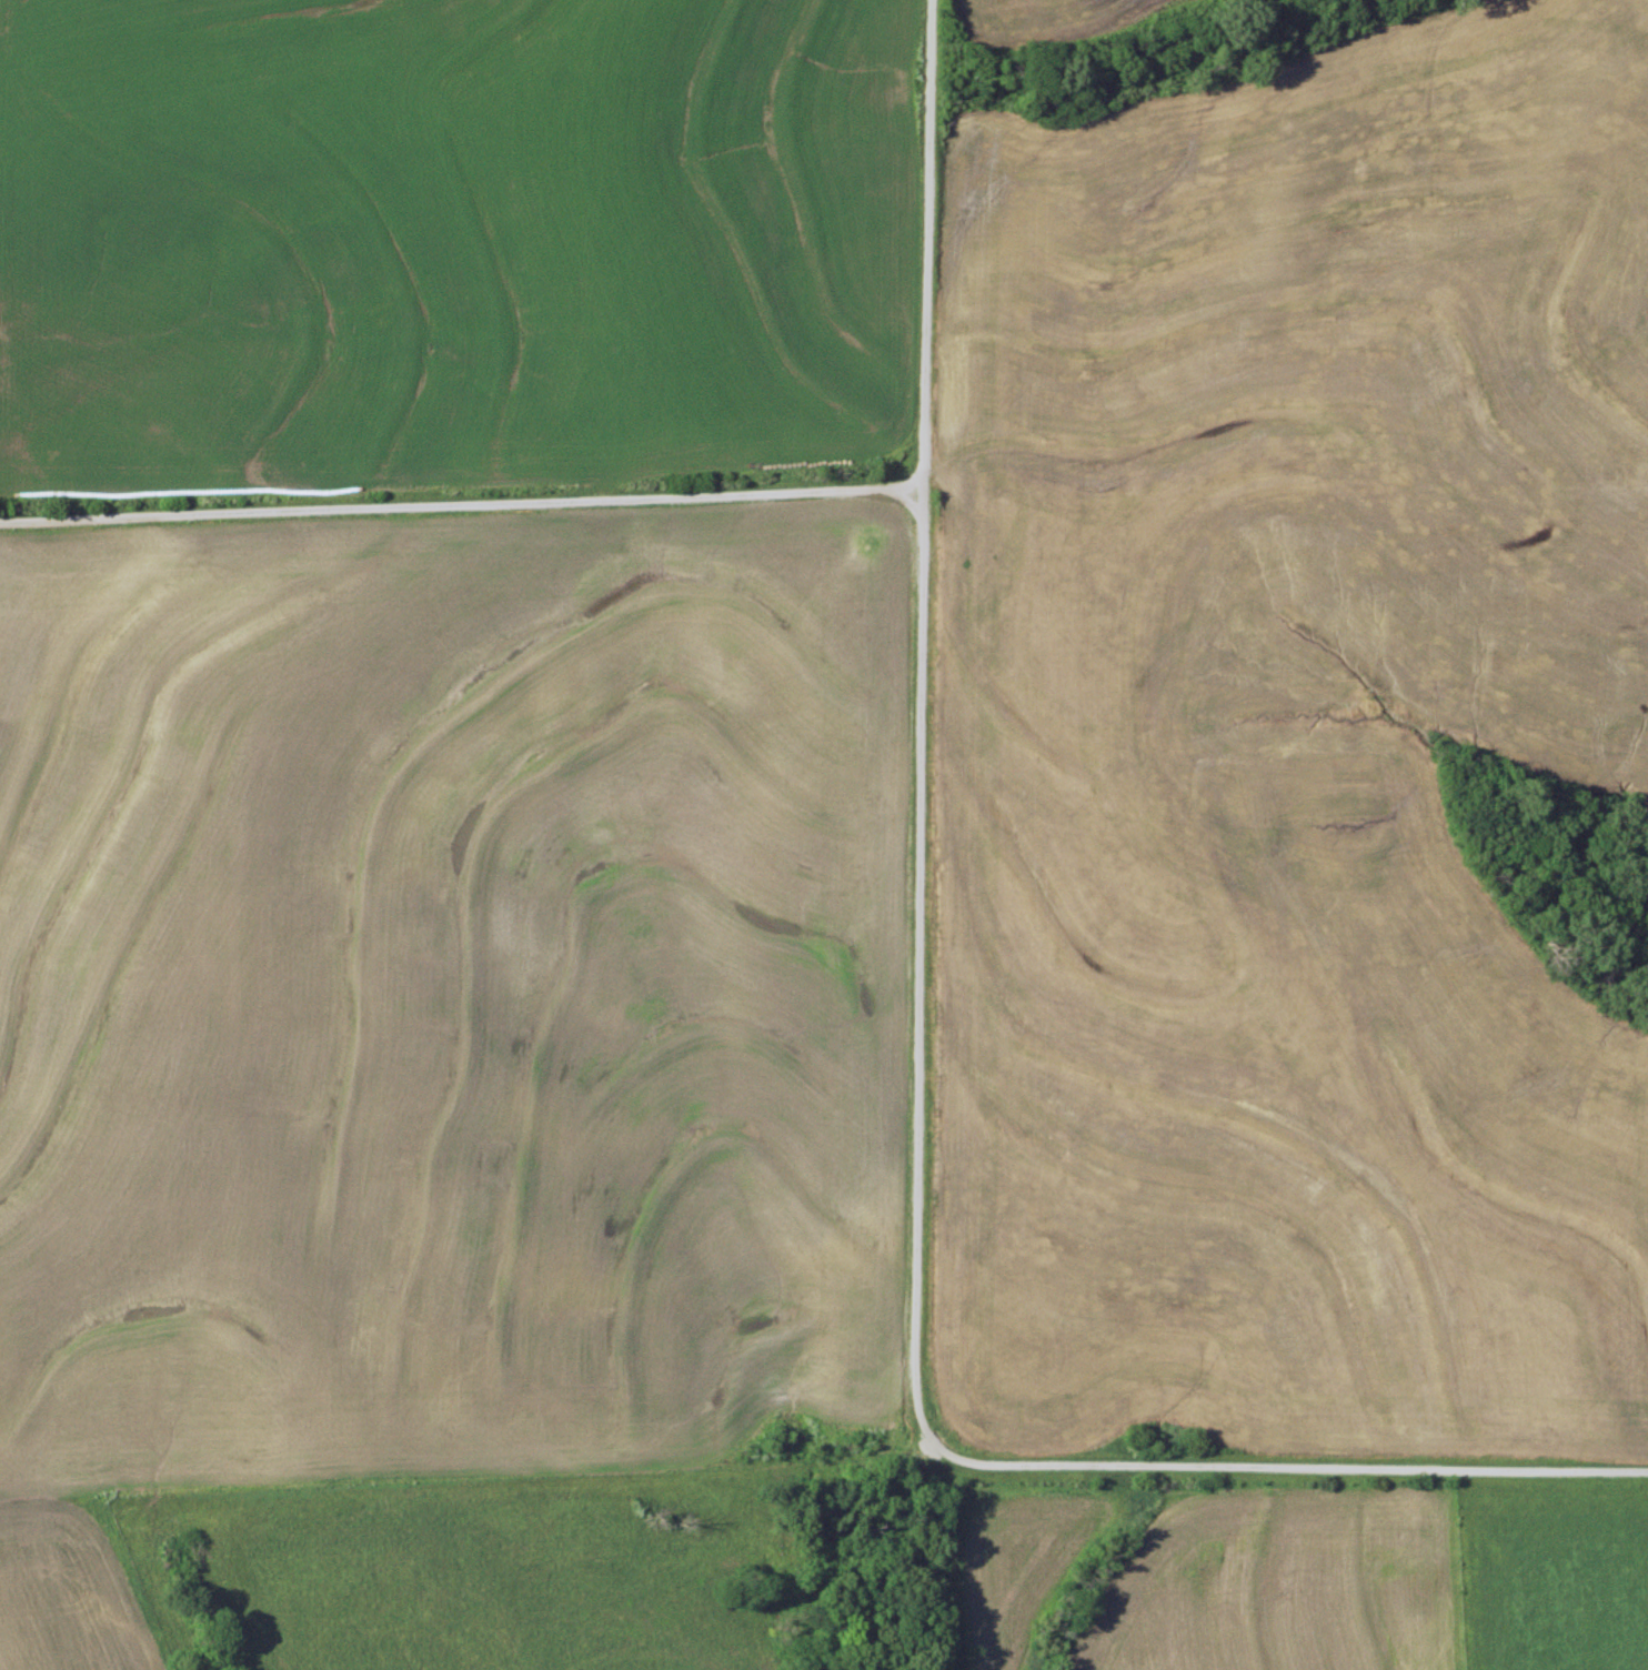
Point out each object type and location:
road: (462, 505)
road: (923, 762)
road: (1324, 1466)

